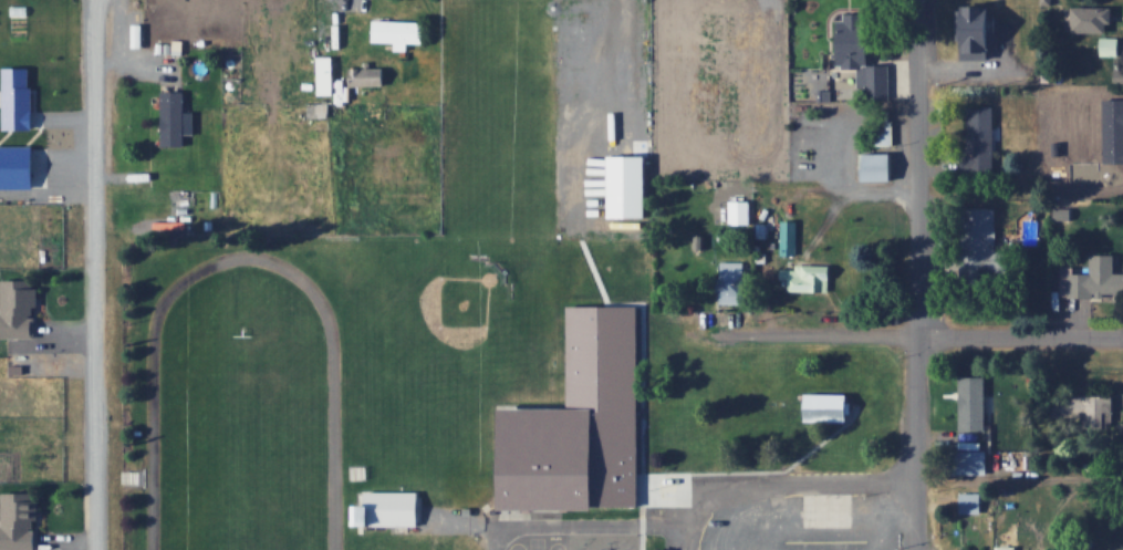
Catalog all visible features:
building: (745, 27)
building: (980, 29)
building: (399, 31)
building: (596, 37)
building: (865, 52)
building: (499, 56)
building: (544, 65)
building: (326, 74)
building: (370, 74)
parking lot: (602, 114)
park: (499, 115)
building: (173, 116)
building: (880, 126)
building: (981, 136)
building: (760, 167)
building: (865, 168)
building: (740, 212)
building: (1028, 226)
building: (789, 237)
building: (985, 243)
road: (94, 274)
road: (921, 274)
building: (1092, 277)
building: (810, 278)
building: (732, 282)
building: (20, 308)
park: (447, 315)
road: (916, 332)
building: (814, 407)
building: (585, 423)
park: (240, 442)
track: (334, 447)
building: (973, 461)
road: (789, 480)
building: (971, 501)
building: (389, 507)
parking lot: (779, 510)
building: (20, 519)
road: (591, 523)
building: (1007, 548)

